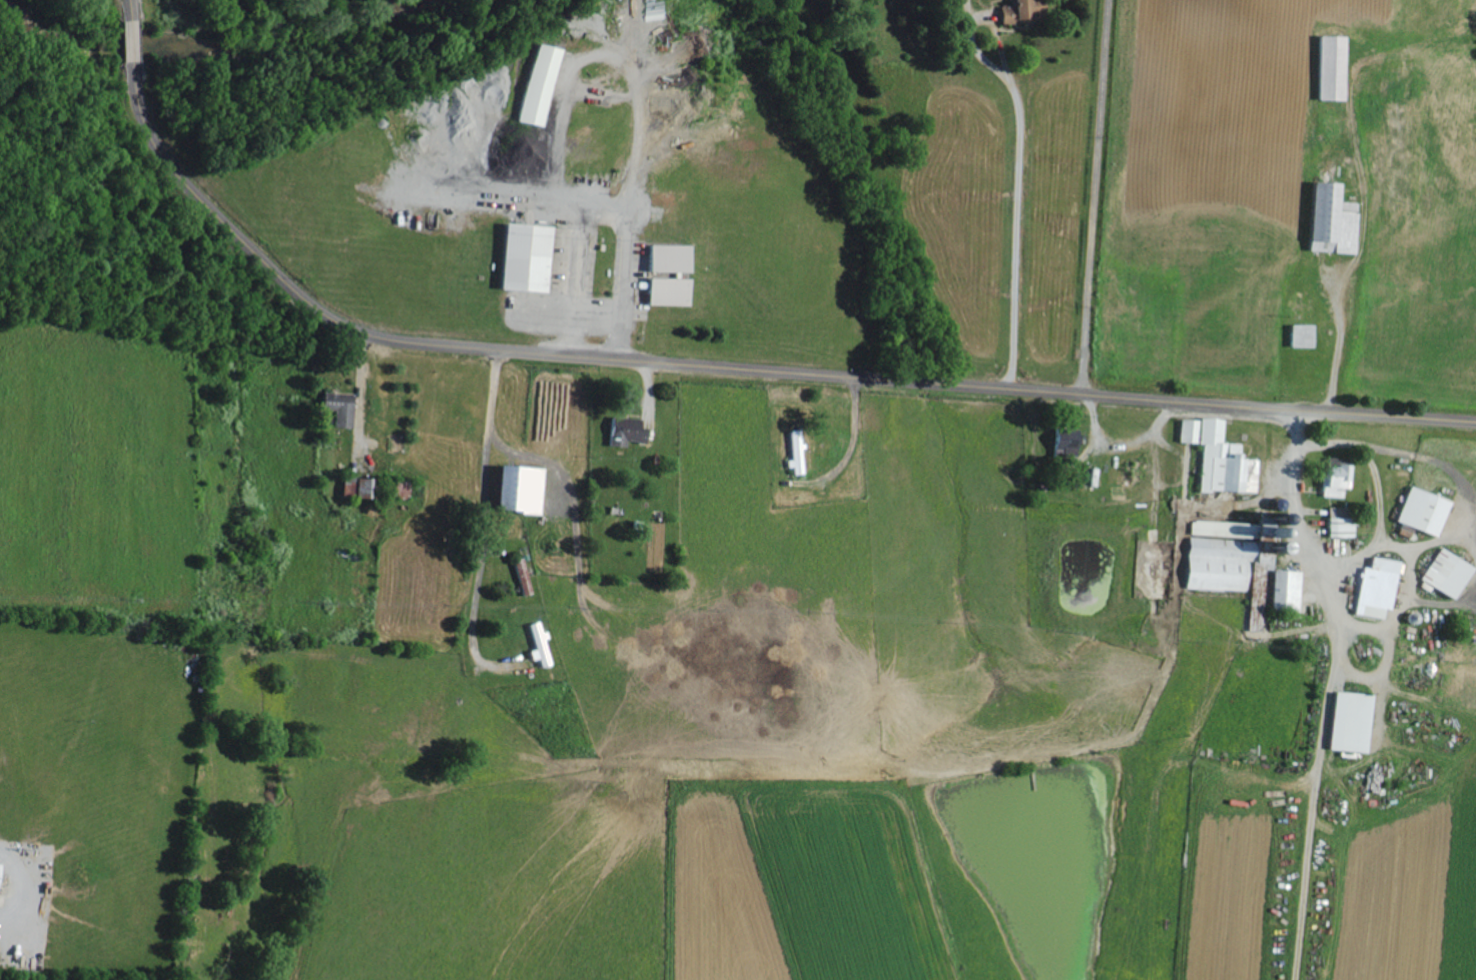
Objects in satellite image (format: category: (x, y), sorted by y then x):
building: (1021, 10)
building: (1327, 66)
building: (533, 83)
road: (1020, 190)
road: (1097, 197)
road: (603, 212)
building: (1327, 218)
building: (520, 257)
building: (665, 257)
road: (703, 366)
building: (336, 407)
building: (622, 430)
building: (1063, 442)
road: (502, 447)
building: (1215, 455)
building: (1332, 478)
building: (353, 487)
building: (512, 489)
building: (1418, 509)
building: (1337, 525)
building: (1235, 558)
building: (1442, 571)
building: (523, 575)
building: (1375, 583)
building: (541, 643)
road: (1332, 691)
building: (1345, 720)
building: (2, 873)

